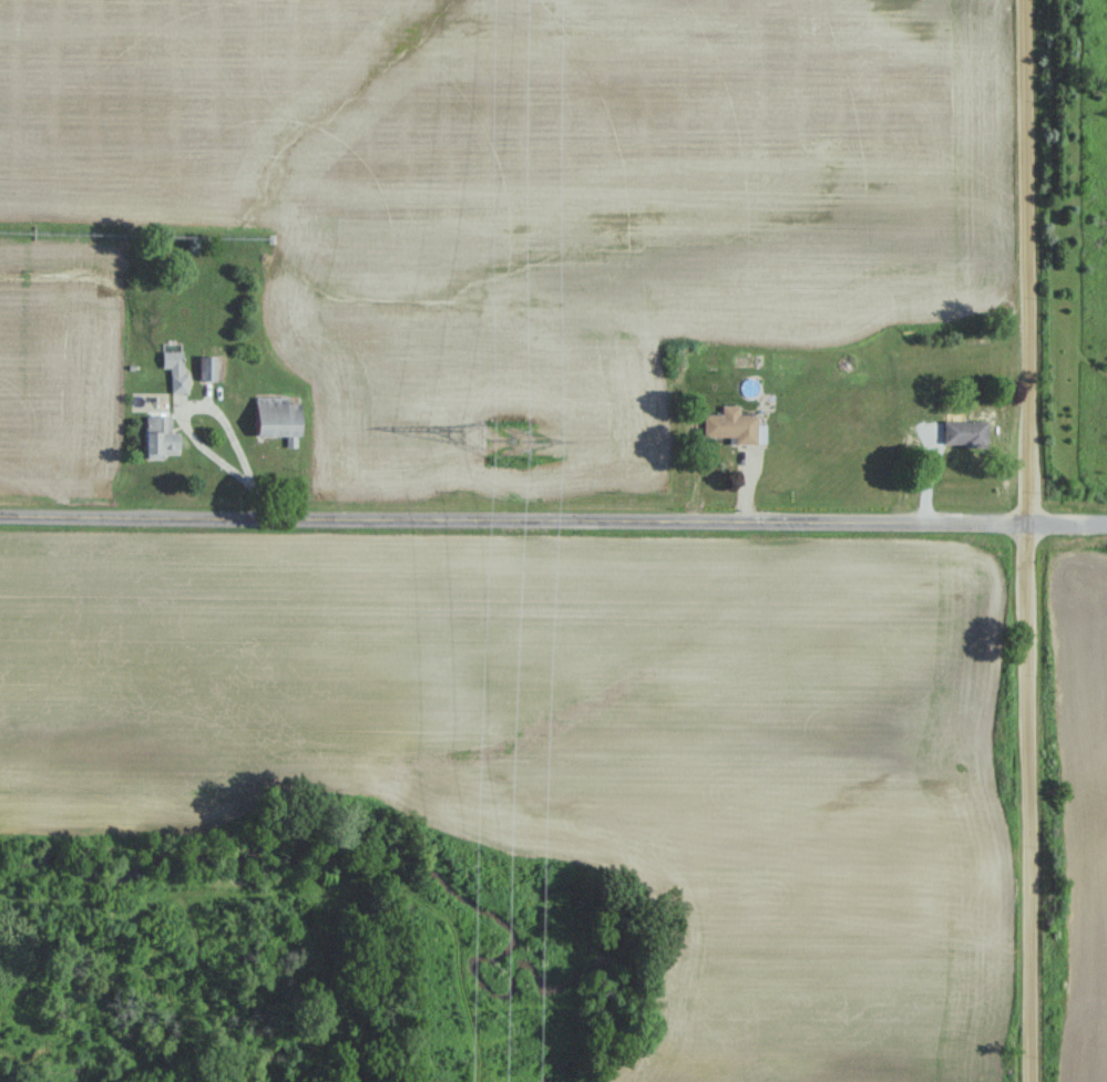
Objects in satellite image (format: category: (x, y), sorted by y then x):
building: (207, 368)
building: (174, 370)
road: (207, 409)
building: (277, 419)
building: (734, 425)
building: (961, 432)
building: (160, 436)
power tower: (514, 439)
road: (553, 521)
road: (1033, 540)

